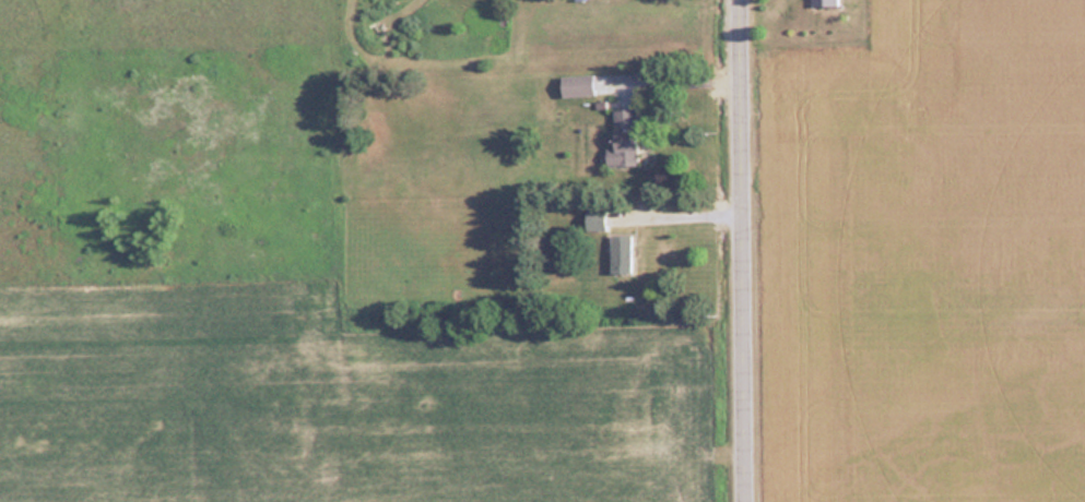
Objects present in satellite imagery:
building: (822, 2)
building: (576, 85)
building: (623, 139)
road: (744, 251)
building: (620, 253)

